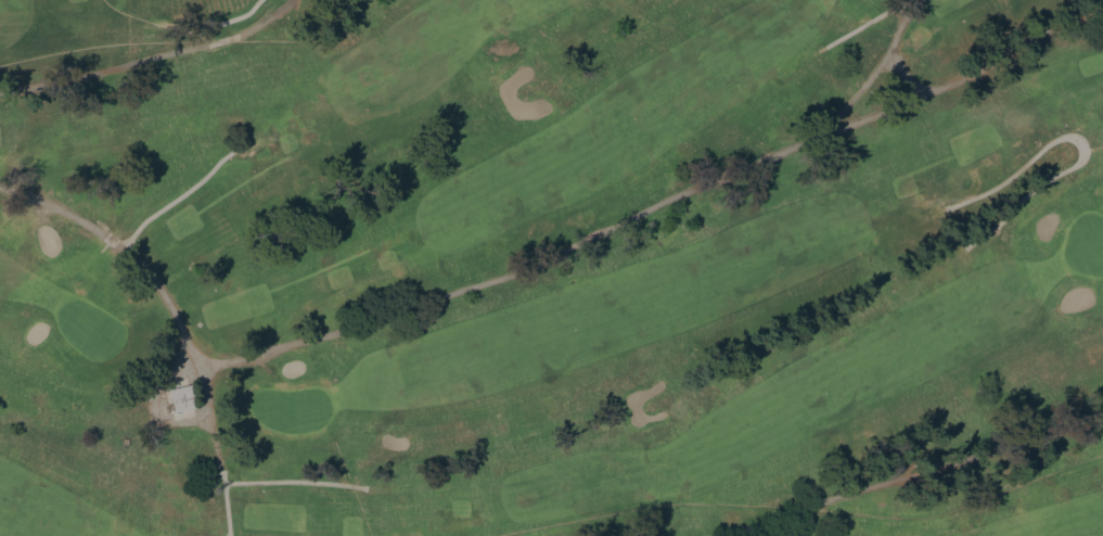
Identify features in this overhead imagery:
road: (867, 22)
road: (218, 23)
road: (889, 50)
road: (150, 58)
road: (856, 92)
road: (1082, 143)
road: (176, 196)
park: (1085, 243)
road: (530, 266)
park: (551, 268)
park: (551, 268)
park: (87, 327)
building: (182, 398)
road: (153, 404)
building: (168, 408)
park: (291, 408)
road: (216, 451)
road: (912, 472)
road: (293, 481)

